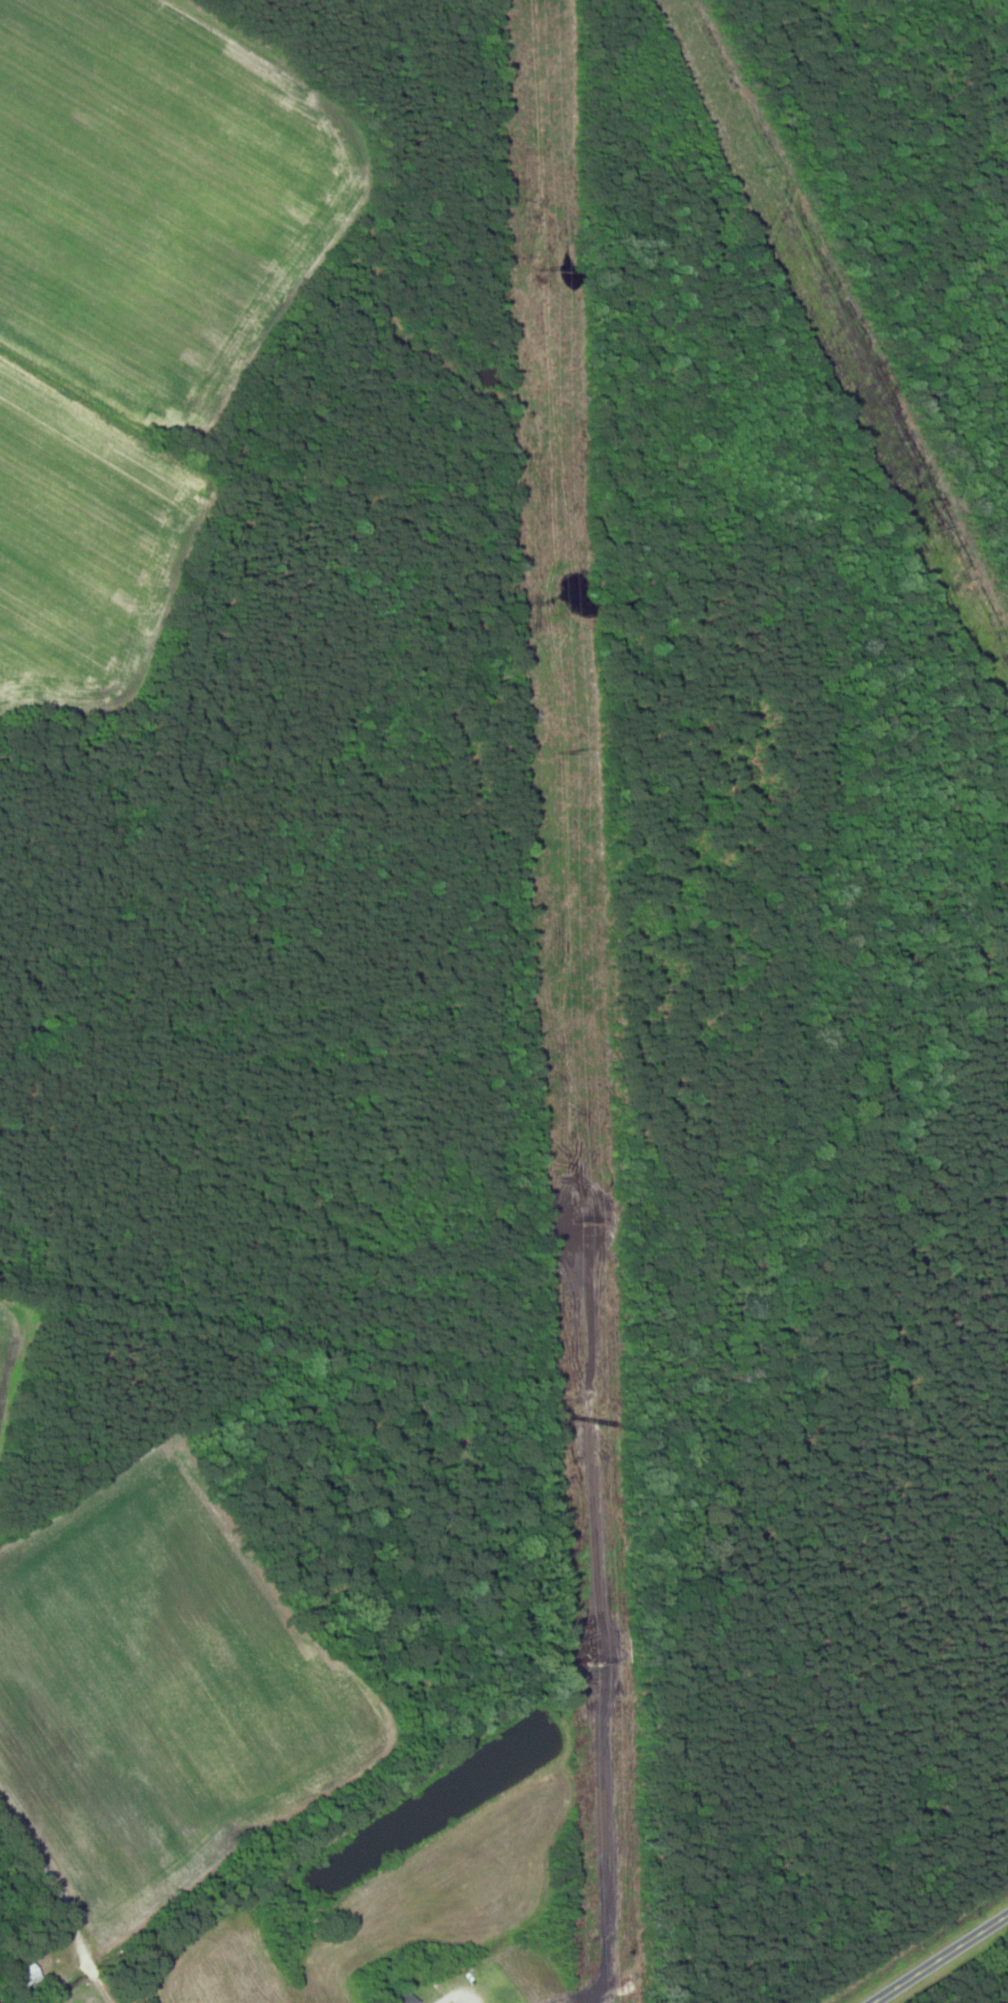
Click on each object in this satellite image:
power tower: (554, 272)
power tower: (564, 753)
power tower: (578, 1222)
power tower: (599, 1660)
road: (939, 1958)
building: (30, 1980)
building: (405, 1998)

